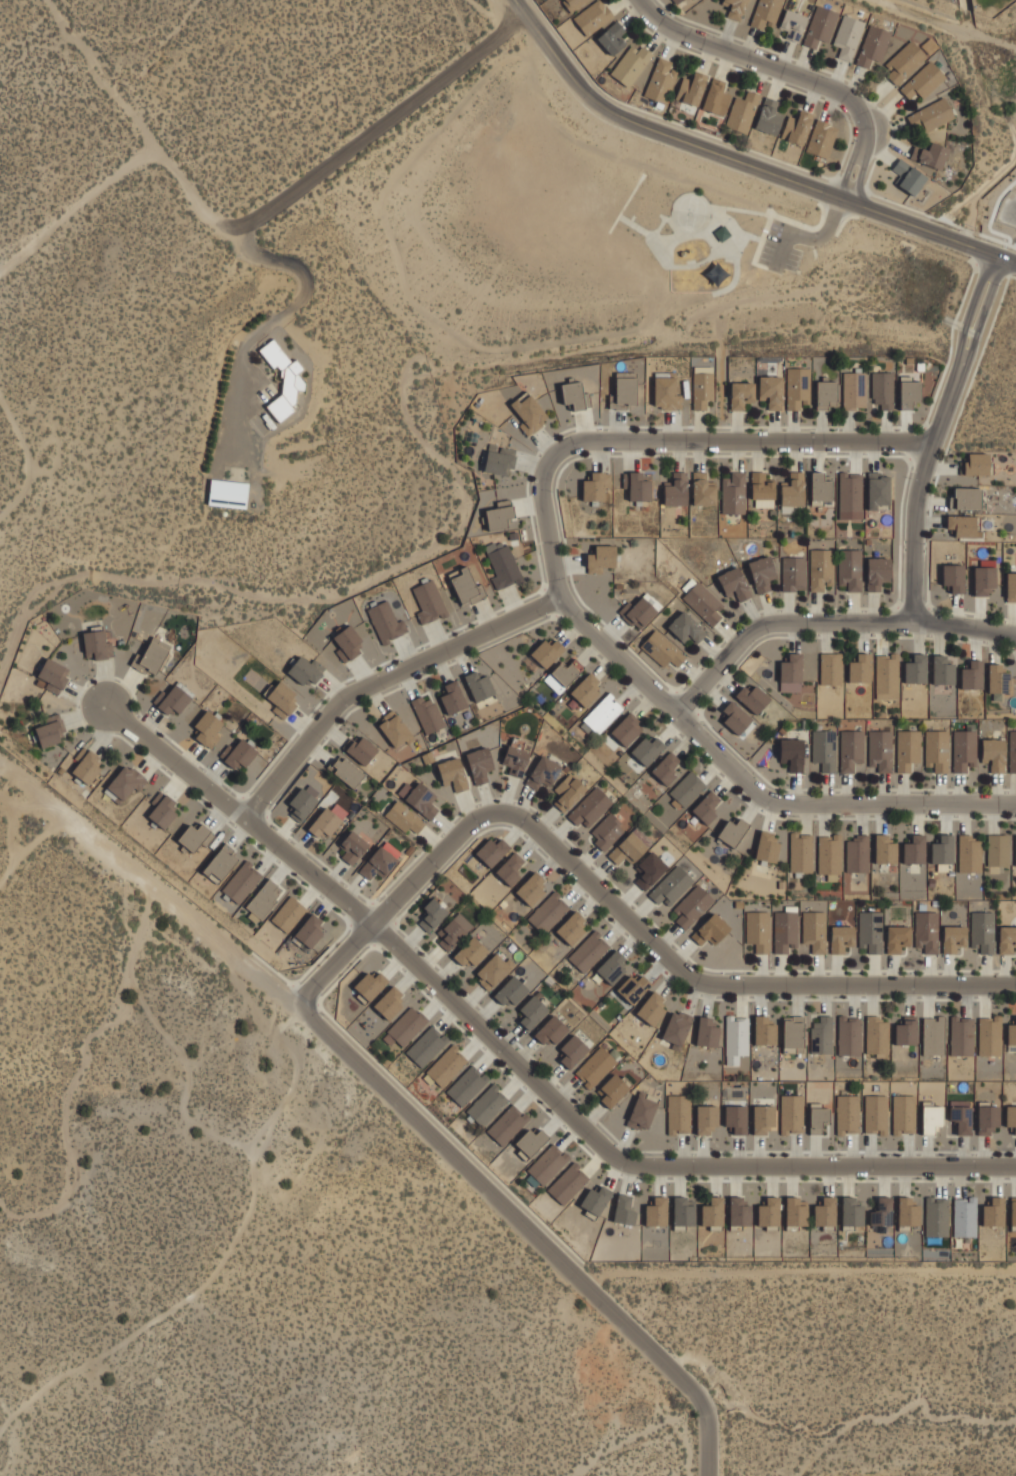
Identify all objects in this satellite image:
building: (676, 1)
building: (573, 3)
building: (734, 8)
building: (765, 13)
building: (592, 17)
building: (792, 24)
building: (819, 26)
building: (847, 36)
building: (611, 38)
building: (872, 46)
building: (904, 62)
building: (630, 65)
road: (792, 74)
building: (660, 81)
building: (922, 81)
building: (690, 88)
building: (715, 97)
building: (741, 112)
building: (931, 115)
building: (768, 116)
road: (388, 120)
road: (139, 125)
building: (796, 127)
building: (821, 138)
building: (930, 155)
road: (744, 163)
building: (908, 177)
road: (78, 208)
park: (562, 230)
road: (826, 234)
road: (247, 235)
road: (784, 251)
building: (290, 382)
building: (797, 385)
building: (883, 388)
building: (666, 389)
building: (771, 389)
building: (855, 389)
building: (624, 390)
building: (703, 390)
building: (909, 390)
building: (573, 393)
building: (741, 393)
building: (826, 394)
building: (528, 413)
road: (937, 436)
building: (500, 458)
building: (979, 462)
building: (598, 486)
building: (639, 487)
building: (762, 487)
building: (820, 488)
building: (676, 489)
building: (704, 489)
building: (880, 490)
building: (229, 492)
building: (734, 492)
building: (794, 492)
building: (851, 495)
building: (968, 496)
building: (501, 516)
building: (963, 524)
building: (602, 558)
building: (504, 565)
building: (851, 567)
building: (822, 569)
building: (878, 571)
building: (763, 573)
building: (794, 573)
building: (954, 576)
building: (985, 578)
building: (735, 583)
building: (466, 585)
building: (1011, 586)
building: (429, 600)
road: (563, 600)
building: (703, 601)
building: (640, 612)
building: (387, 620)
road: (828, 623)
building: (687, 626)
building: (350, 640)
building: (97, 644)
building: (663, 648)
building: (548, 651)
building: (152, 655)
building: (831, 667)
building: (860, 668)
building: (307, 669)
building: (916, 669)
building: (943, 670)
building: (791, 672)
building: (55, 673)
building: (888, 674)
building: (563, 675)
building: (972, 675)
building: (997, 678)
building: (480, 685)
building: (587, 689)
building: (284, 697)
building: (453, 697)
building: (753, 697)
building: (175, 700)
building: (428, 712)
building: (603, 713)
building: (736, 716)
building: (208, 726)
building: (395, 728)
building: (627, 728)
building: (52, 730)
building: (824, 747)
building: (851, 747)
building: (648, 748)
building: (907, 748)
building: (880, 750)
building: (937, 750)
building: (965, 750)
building: (1013, 750)
building: (792, 752)
building: (993, 752)
building: (367, 753)
building: (241, 755)
building: (516, 756)
road: (179, 762)
building: (480, 764)
building: (89, 767)
building: (667, 767)
building: (347, 771)
building: (543, 771)
building: (454, 772)
building: (125, 783)
building: (688, 787)
building: (569, 790)
building: (423, 798)
building: (302, 802)
building: (591, 806)
building: (707, 806)
building: (165, 810)
building: (405, 817)
building: (325, 821)
building: (608, 831)
building: (733, 831)
building: (196, 835)
building: (354, 846)
building: (769, 846)
building: (885, 847)
road: (29, 848)
building: (628, 848)
building: (1015, 848)
building: (915, 849)
building: (943, 849)
building: (998, 849)
building: (493, 850)
building: (802, 851)
building: (858, 852)
building: (970, 852)
building: (830, 854)
building: (382, 859)
building: (221, 861)
building: (511, 867)
building: (649, 869)
building: (243, 880)
road: (149, 884)
building: (671, 886)
building: (531, 887)
building: (264, 899)
road: (614, 905)
building: (692, 907)
building: (433, 911)
building: (548, 911)
building: (289, 913)
building: (572, 926)
building: (711, 929)
building: (758, 929)
building: (814, 929)
building: (871, 929)
building: (453, 930)
building: (983, 930)
building: (310, 931)
building: (785, 931)
building: (927, 931)
building: (840, 937)
building: (953, 937)
building: (898, 939)
building: (1007, 939)
building: (590, 951)
building: (470, 952)
building: (613, 966)
building: (492, 970)
building: (370, 983)
road: (440, 986)
building: (633, 986)
building: (512, 991)
building: (389, 1001)
building: (652, 1007)
building: (533, 1011)
building: (406, 1026)
building: (677, 1027)
building: (764, 1030)
building: (551, 1031)
building: (905, 1031)
building: (707, 1032)
building: (1012, 1032)
building: (794, 1033)
building: (822, 1034)
building: (850, 1034)
building: (877, 1034)
building: (934, 1035)
building: (962, 1035)
building: (990, 1035)
building: (736, 1036)
building: (427, 1044)
building: (573, 1049)
building: (448, 1064)
building: (596, 1066)
building: (468, 1084)
building: (613, 1089)
building: (487, 1105)
building: (643, 1110)
building: (680, 1113)
building: (793, 1113)
building: (848, 1113)
building: (876, 1113)
building: (905, 1113)
building: (932, 1116)
building: (1011, 1116)
building: (736, 1117)
building: (961, 1117)
building: (707, 1118)
building: (763, 1118)
building: (819, 1119)
building: (989, 1119)
building: (508, 1123)
building: (531, 1141)
building: (548, 1163)
building: (569, 1183)
building: (595, 1200)
building: (624, 1209)
building: (683, 1211)
building: (852, 1211)
building: (882, 1211)
building: (657, 1212)
building: (713, 1212)
building: (739, 1212)
building: (769, 1212)
building: (796, 1212)
building: (908, 1212)
building: (994, 1212)
building: (825, 1213)
building: (1014, 1214)
building: (965, 1215)
building: (937, 1216)
road: (527, 1228)

